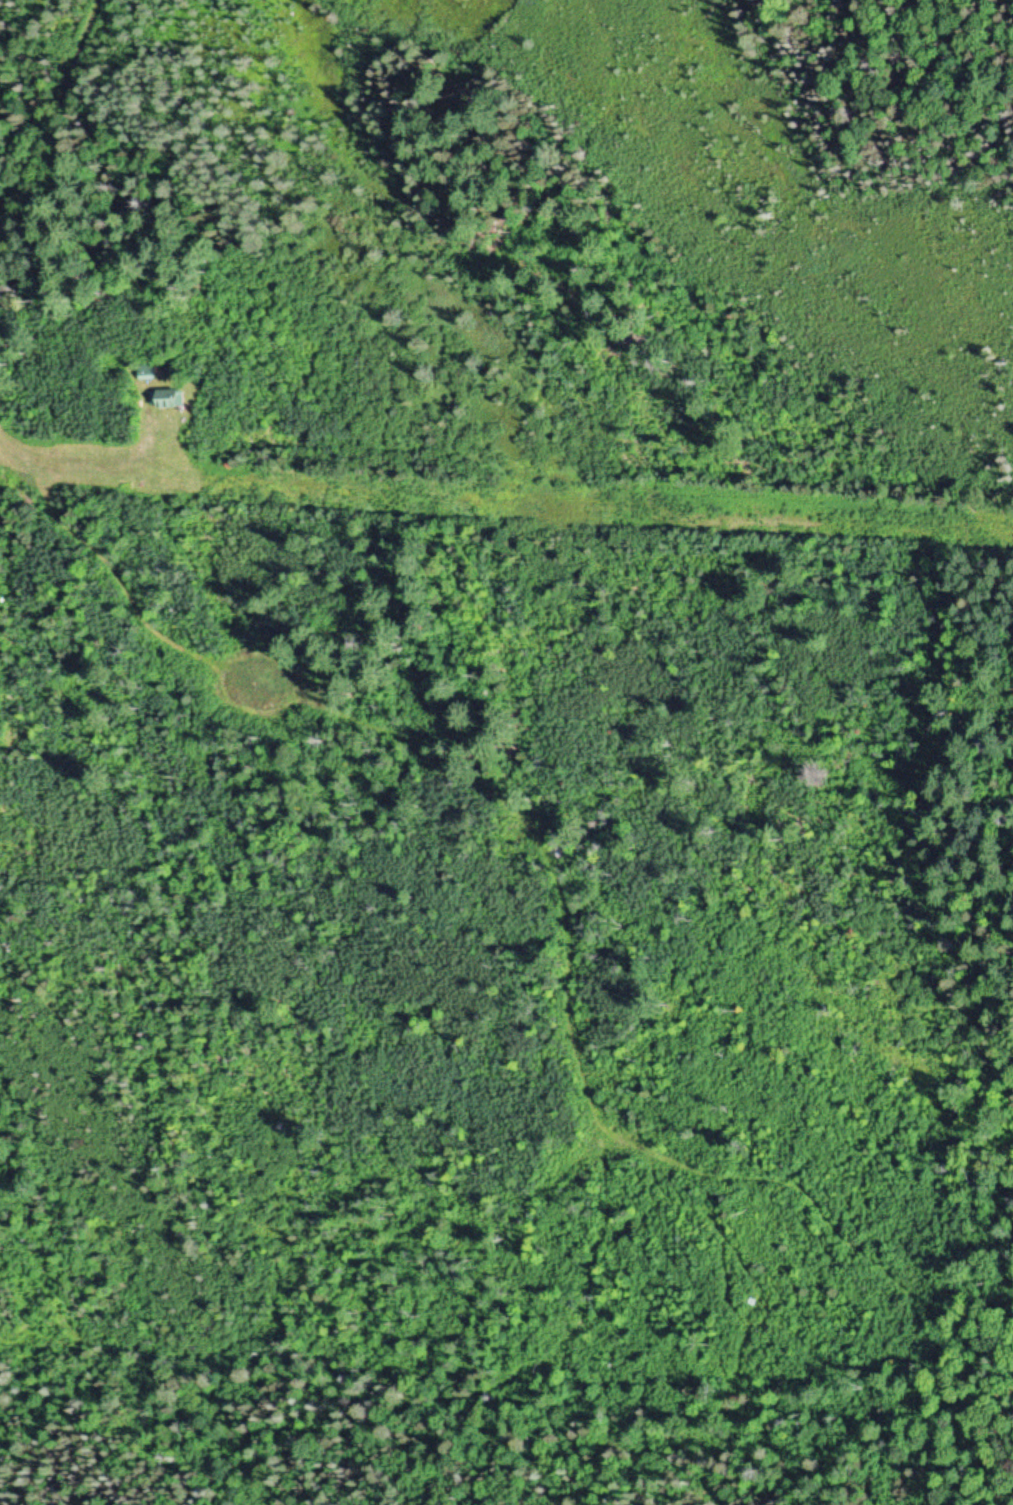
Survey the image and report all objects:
road: (24, 57)
building: (150, 372)
building: (174, 401)
road: (46, 839)

